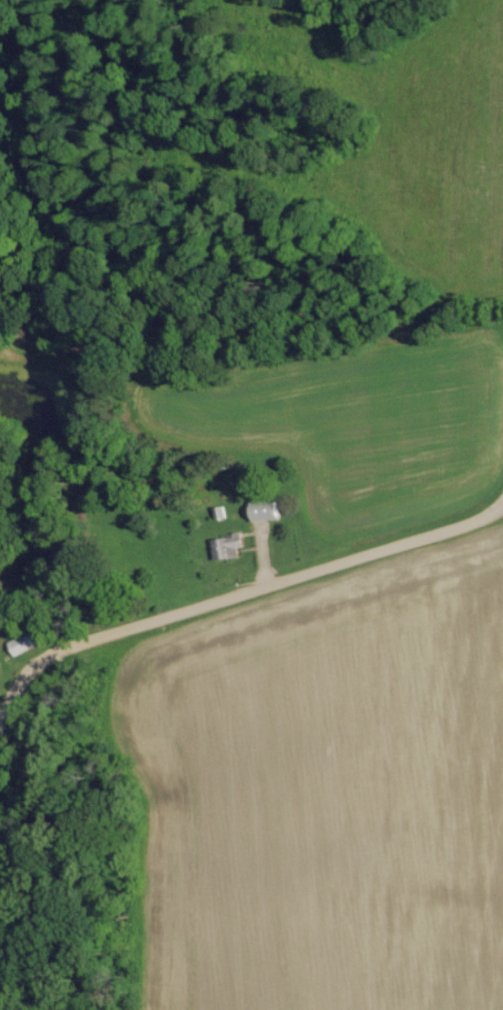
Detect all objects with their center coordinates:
building: (246, 526)
road: (236, 590)
building: (23, 642)

